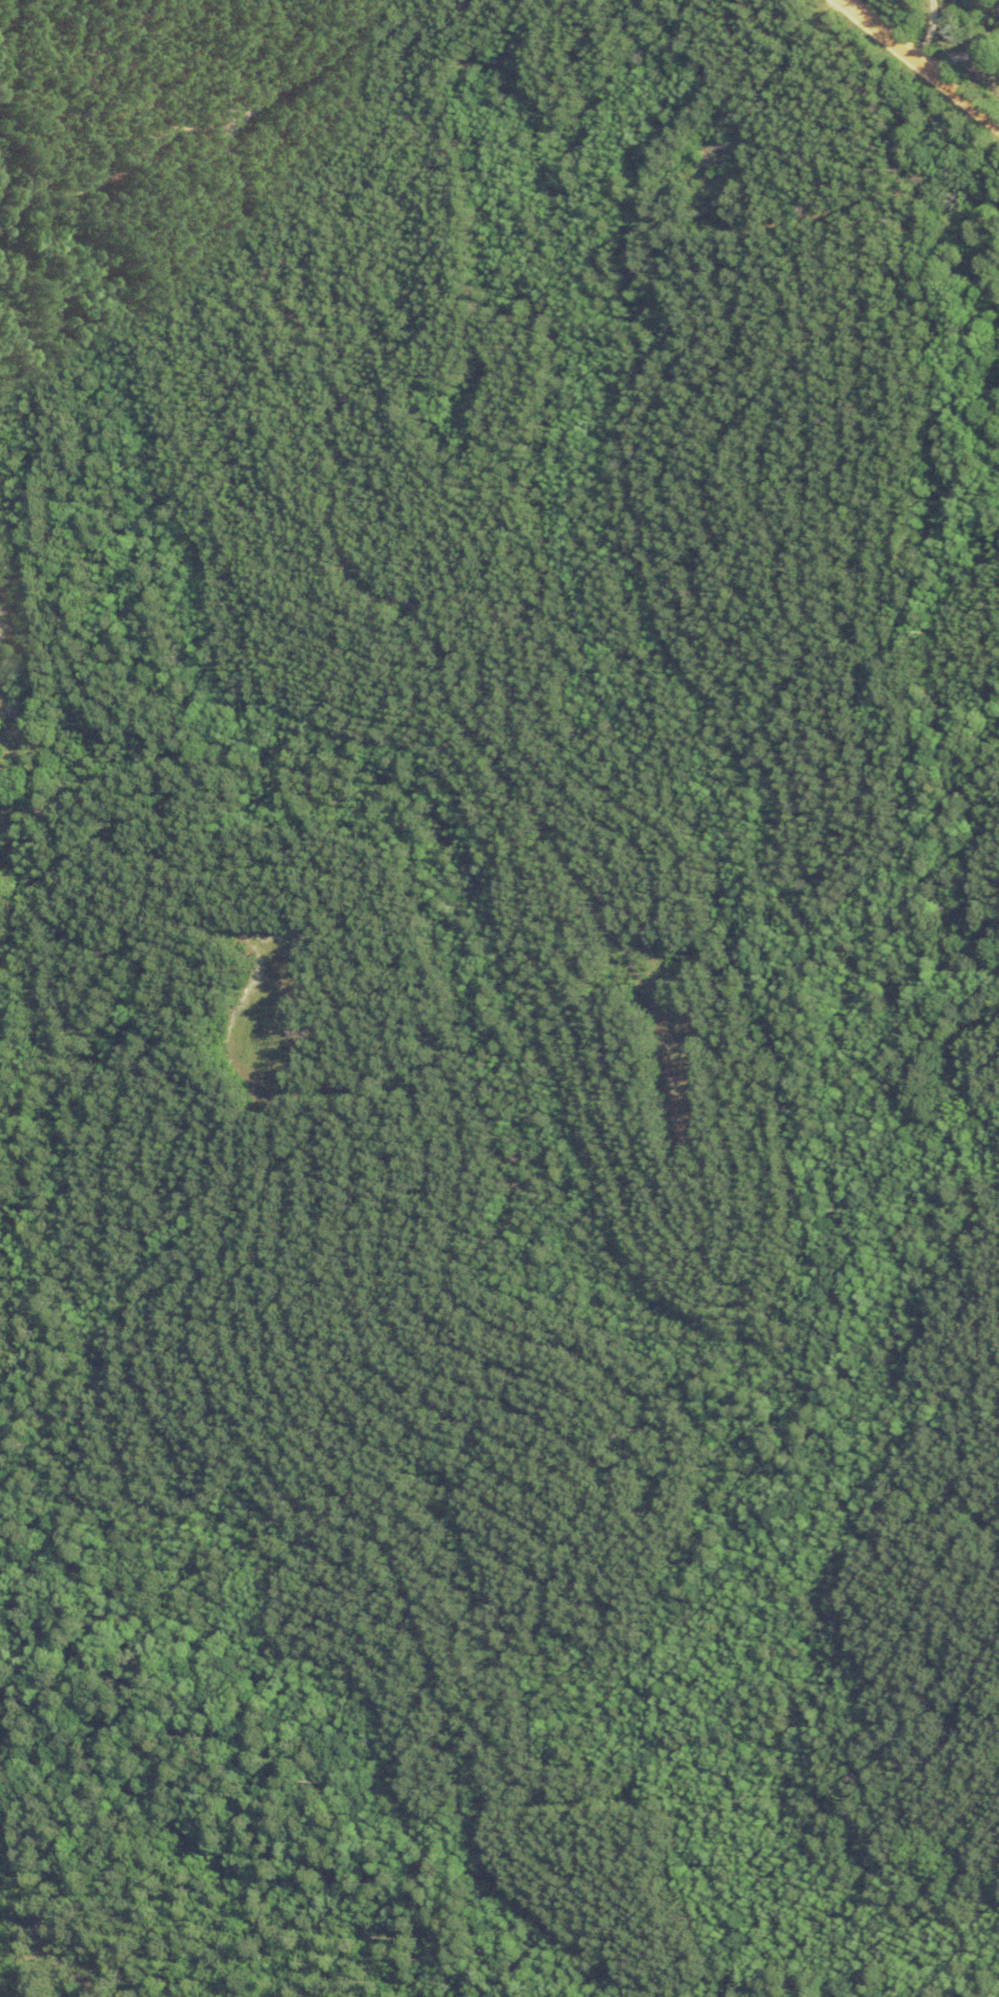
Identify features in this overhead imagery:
road: (919, 30)
road: (916, 67)
building: (8, 667)

